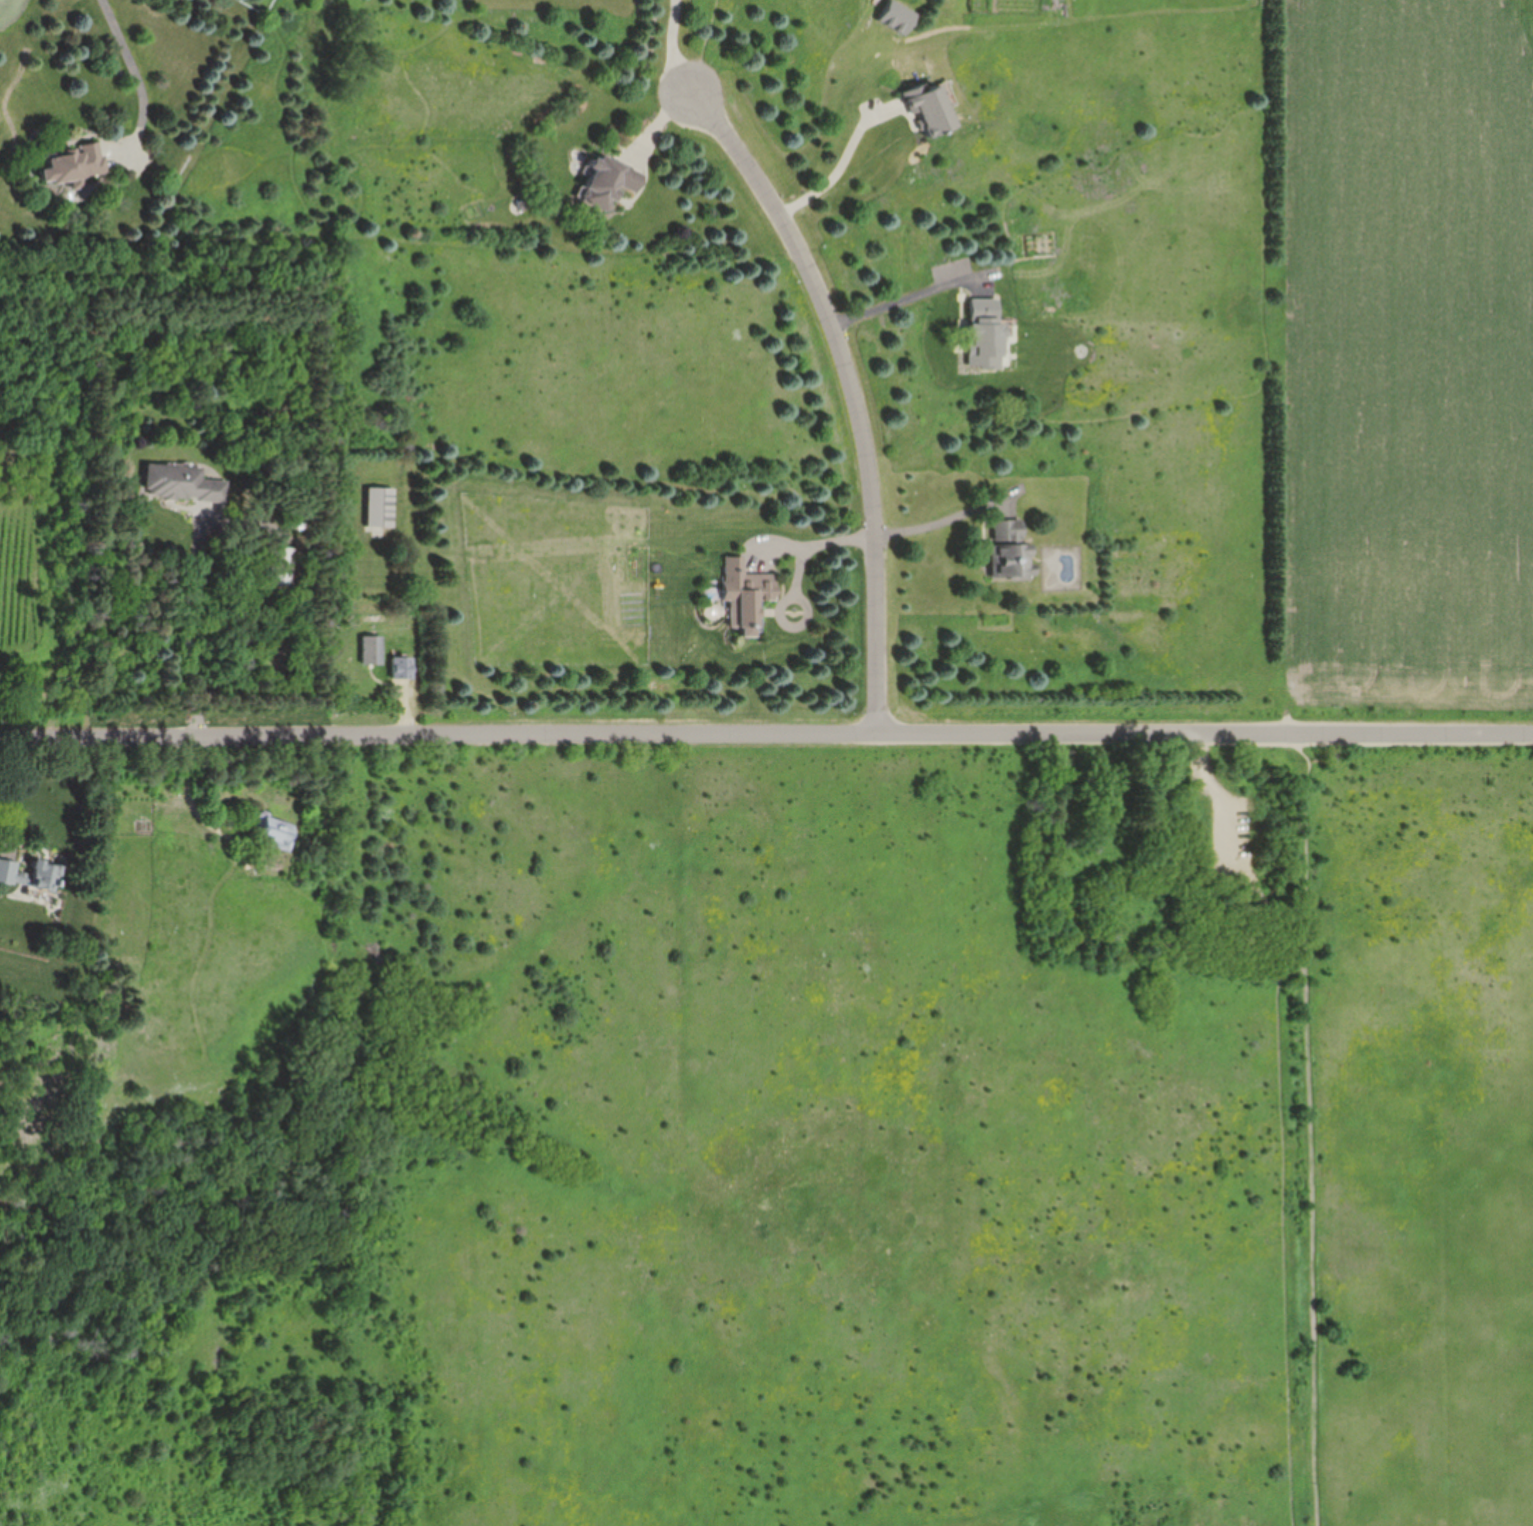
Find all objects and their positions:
road: (675, 46)
road: (129, 61)
building: (925, 110)
building: (74, 163)
road: (837, 169)
building: (614, 186)
road: (911, 295)
building: (980, 334)
road: (851, 391)
building: (183, 483)
building: (380, 506)
road: (951, 513)
road: (811, 550)
building: (1006, 552)
building: (281, 565)
building: (742, 595)
road: (193, 627)
building: (373, 650)
building: (401, 670)
road: (766, 732)
road: (1226, 795)
building: (274, 830)
parking lot: (1236, 838)
building: (46, 869)
road: (1299, 1129)
park: (859, 1153)

